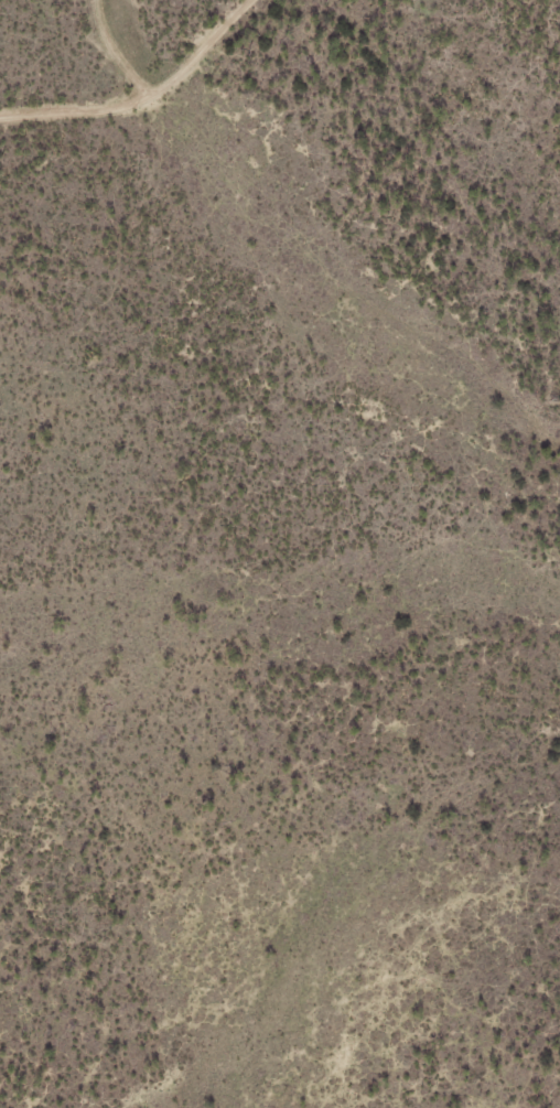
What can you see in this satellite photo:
road: (166, 95)

